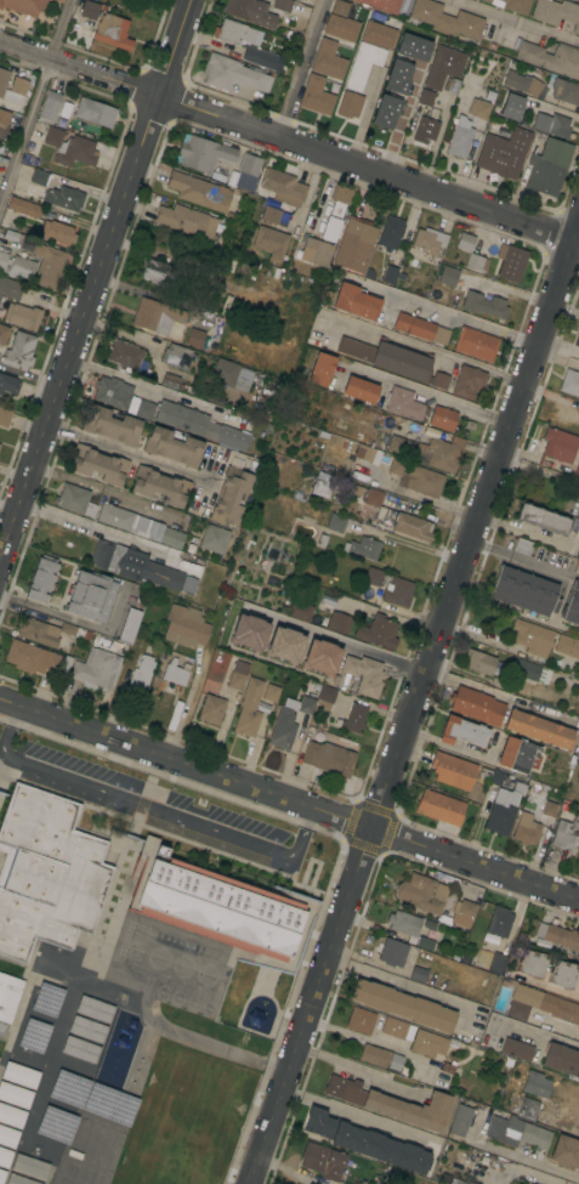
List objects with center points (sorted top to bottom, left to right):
building: (59, 0)
building: (149, 0)
building: (487, 0)
building: (24, 5)
building: (283, 5)
building: (381, 5)
building: (517, 5)
building: (340, 6)
building: (89, 10)
building: (250, 11)
building: (557, 12)
building: (444, 18)
road: (513, 21)
building: (341, 27)
building: (112, 30)
building: (235, 30)
building: (405, 45)
building: (369, 52)
building: (259, 56)
building: (551, 57)
building: (328, 60)
building: (443, 66)
road: (301, 67)
building: (232, 73)
building: (396, 78)
building: (2, 80)
building: (523, 80)
building: (18, 85)
building: (563, 89)
building: (487, 91)
building: (316, 95)
building: (486, 97)
building: (424, 102)
building: (466, 102)
building: (350, 104)
road: (36, 106)
building: (50, 106)
building: (511, 106)
building: (391, 107)
building: (479, 108)
building: (95, 112)
building: (4, 120)
building: (551, 124)
building: (422, 128)
building: (501, 132)
road: (286, 137)
building: (460, 140)
building: (70, 147)
building: (504, 152)
building: (203, 153)
building: (549, 166)
building: (249, 172)
building: (39, 177)
building: (283, 186)
building: (199, 191)
building: (64, 197)
building: (340, 198)
building: (23, 206)
building: (271, 214)
building: (186, 220)
building: (331, 228)
building: (57, 232)
building: (390, 234)
building: (12, 236)
building: (271, 240)
building: (428, 240)
building: (465, 240)
road: (574, 244)
building: (353, 249)
building: (314, 250)
building: (45, 261)
building: (476, 262)
building: (509, 262)
building: (17, 266)
building: (391, 270)
building: (154, 271)
building: (449, 274)
road: (93, 276)
building: (10, 288)
road: (158, 296)
building: (356, 301)
building: (493, 306)
road: (442, 310)
building: (22, 316)
building: (157, 316)
building: (420, 328)
building: (4, 334)
building: (195, 336)
building: (577, 339)
building: (476, 344)
road: (426, 347)
road: (557, 350)
building: (19, 351)
building: (125, 355)
building: (176, 356)
building: (394, 359)
building: (320, 369)
building: (232, 374)
building: (170, 380)
building: (467, 380)
building: (569, 381)
building: (8, 384)
building: (361, 389)
road: (159, 390)
building: (113, 391)
road: (431, 396)
building: (405, 403)
building: (144, 409)
building: (4, 415)
building: (443, 418)
building: (200, 424)
building: (112, 425)
building: (558, 444)
building: (172, 446)
building: (428, 451)
road: (131, 453)
building: (364, 453)
building: (98, 464)
building: (577, 471)
building: (418, 476)
building: (322, 483)
building: (159, 486)
road: (112, 491)
building: (229, 495)
building: (75, 499)
building: (398, 517)
building: (543, 519)
building: (336, 522)
building: (140, 525)
road: (90, 531)
road: (532, 537)
building: (214, 538)
building: (522, 545)
building: (364, 546)
road: (523, 560)
building: (134, 565)
building: (374, 576)
building: (41, 579)
building: (398, 590)
building: (526, 590)
building: (90, 596)
building: (572, 605)
building: (300, 610)
road: (80, 622)
building: (339, 622)
building: (129, 624)
building: (186, 625)
building: (42, 630)
building: (246, 631)
building: (378, 631)
building: (532, 636)
road: (486, 644)
building: (284, 645)
building: (567, 645)
road: (369, 648)
building: (319, 657)
building: (32, 658)
building: (479, 662)
building: (98, 664)
building: (530, 670)
building: (141, 672)
building: (238, 672)
building: (367, 672)
building: (175, 673)
road: (200, 678)
building: (271, 692)
road: (500, 695)
building: (325, 696)
road: (414, 701)
building: (212, 703)
building: (306, 704)
building: (477, 704)
building: (249, 708)
building: (353, 718)
building: (283, 727)
building: (539, 729)
building: (462, 731)
building: (517, 753)
building: (329, 758)
parking lot: (84, 766)
building: (453, 770)
building: (578, 774)
building: (498, 777)
road: (289, 798)
road: (149, 806)
building: (439, 806)
building: (503, 809)
parking lot: (229, 817)
building: (533, 823)
building: (566, 834)
building: (46, 873)
building: (421, 893)
building: (221, 907)
building: (462, 912)
building: (404, 923)
building: (430, 924)
building: (432, 935)
building: (562, 936)
building: (496, 937)
building: (425, 942)
building: (541, 945)
building: (392, 952)
building: (483, 958)
building: (532, 963)
building: (418, 974)
building: (562, 974)
road: (411, 988)
road: (550, 990)
building: (578, 992)
building: (526, 995)
building: (8, 996)
building: (403, 1004)
building: (560, 1008)
building: (95, 1009)
building: (518, 1010)
building: (361, 1020)
building: (1, 1026)
building: (393, 1027)
building: (87, 1029)
road: (528, 1032)
road: (367, 1042)
building: (431, 1043)
building: (80, 1049)
building: (517, 1049)
building: (380, 1056)
building: (562, 1059)
building: (19, 1075)
road: (357, 1077)
building: (537, 1083)
building: (64, 1088)
building: (15, 1094)
building: (391, 1103)
building: (528, 1107)
building: (11, 1116)
road: (359, 1117)
building: (460, 1120)
building: (517, 1132)
building: (52, 1134)
building: (7, 1137)
building: (367, 1141)
building: (564, 1151)
building: (5, 1157)
road: (520, 1157)
building: (324, 1161)
building: (30, 1167)
building: (1, 1174)
building: (18, 1179)
building: (532, 1183)

